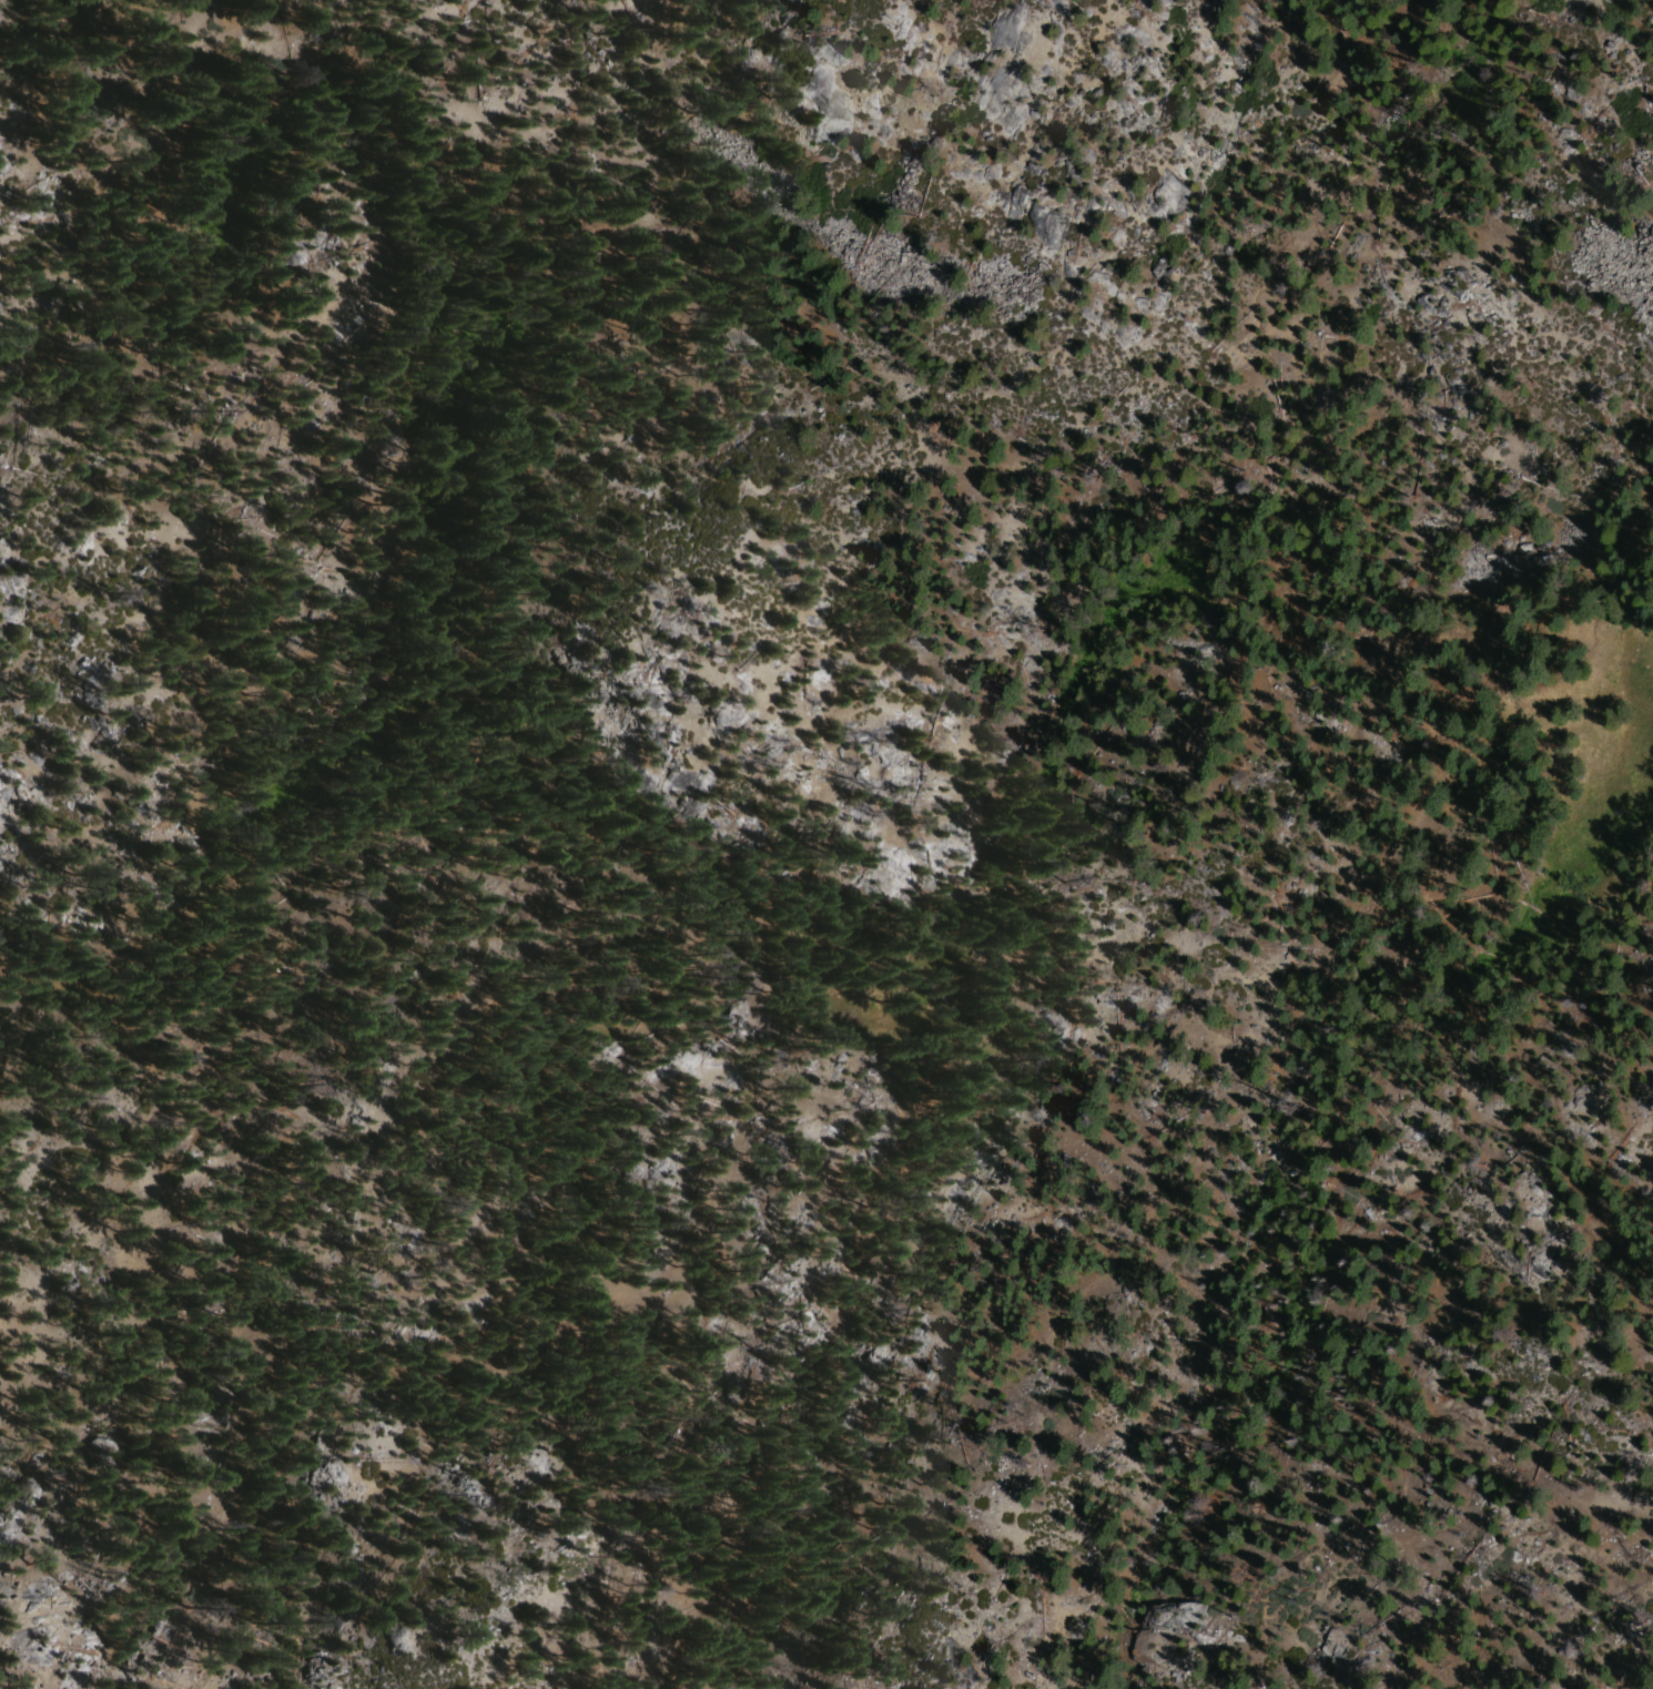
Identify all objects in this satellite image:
road: (987, 405)

